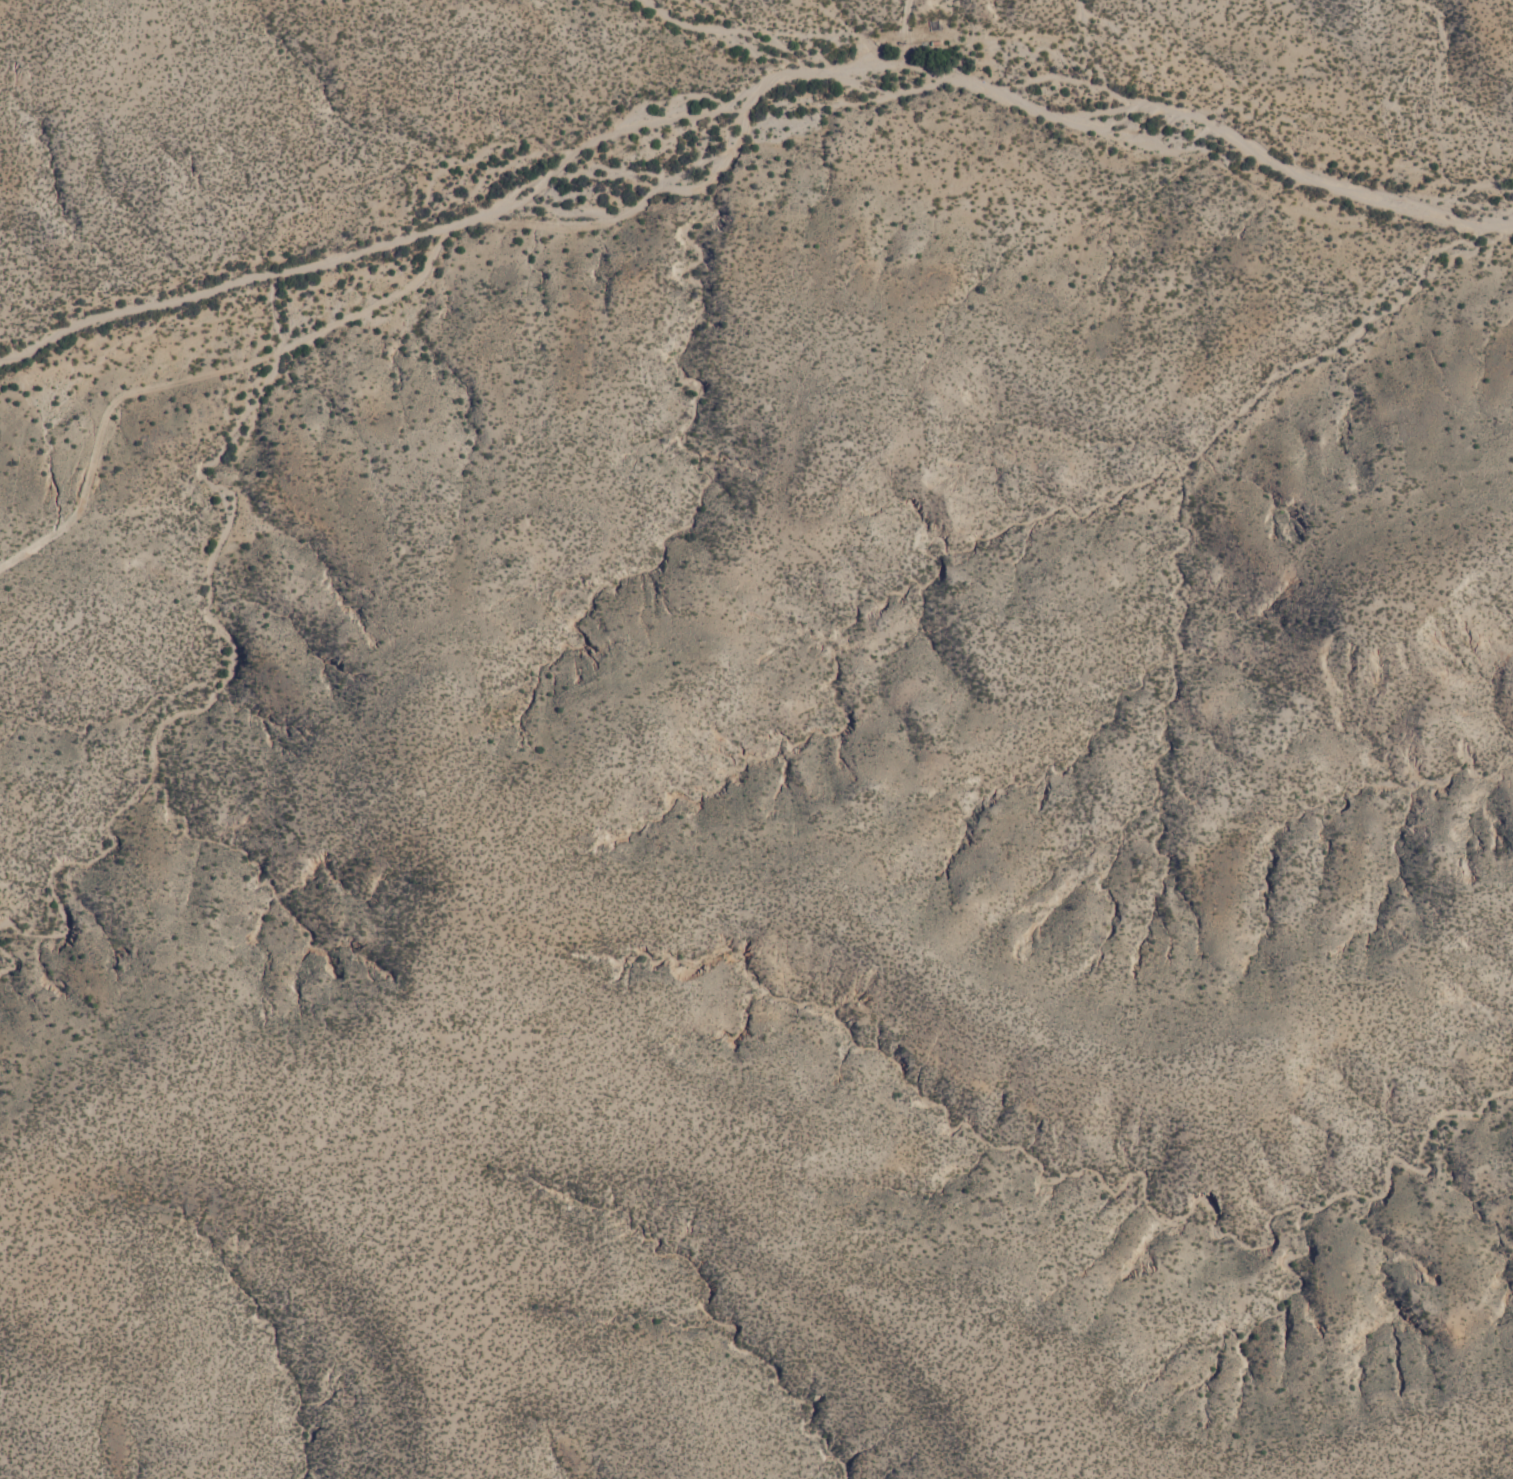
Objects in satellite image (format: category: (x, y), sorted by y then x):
road: (443, 237)

